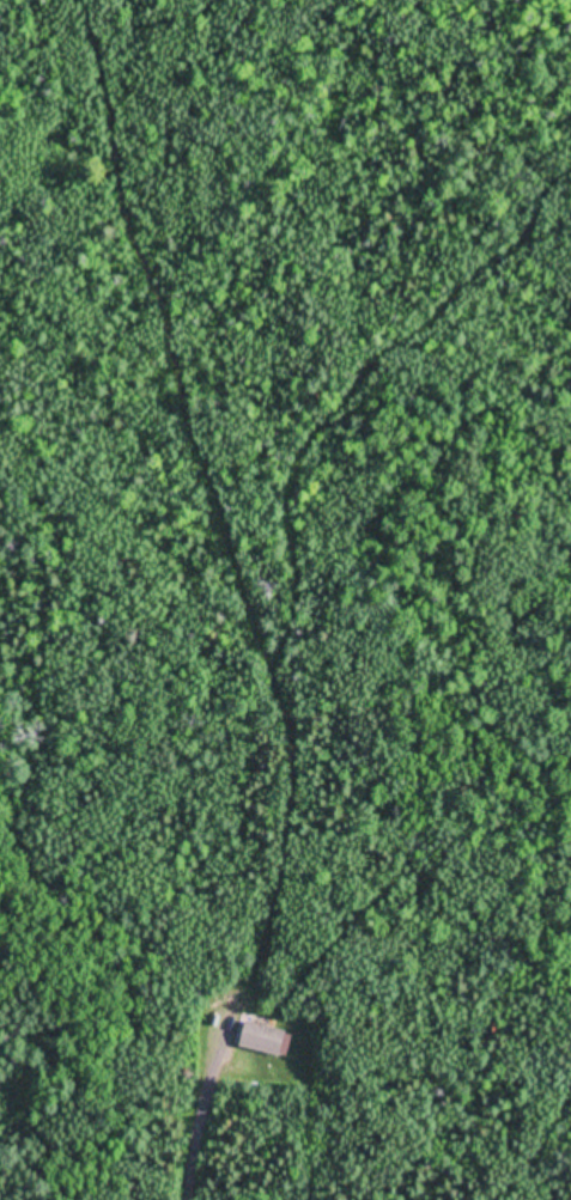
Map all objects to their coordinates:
building: (263, 1036)
road: (195, 1143)

